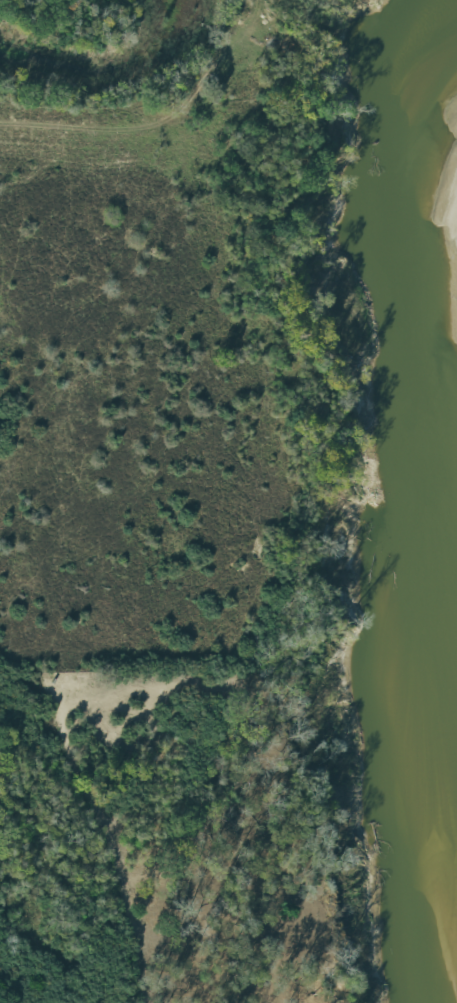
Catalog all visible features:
road: (163, 128)
river: (422, 261)

